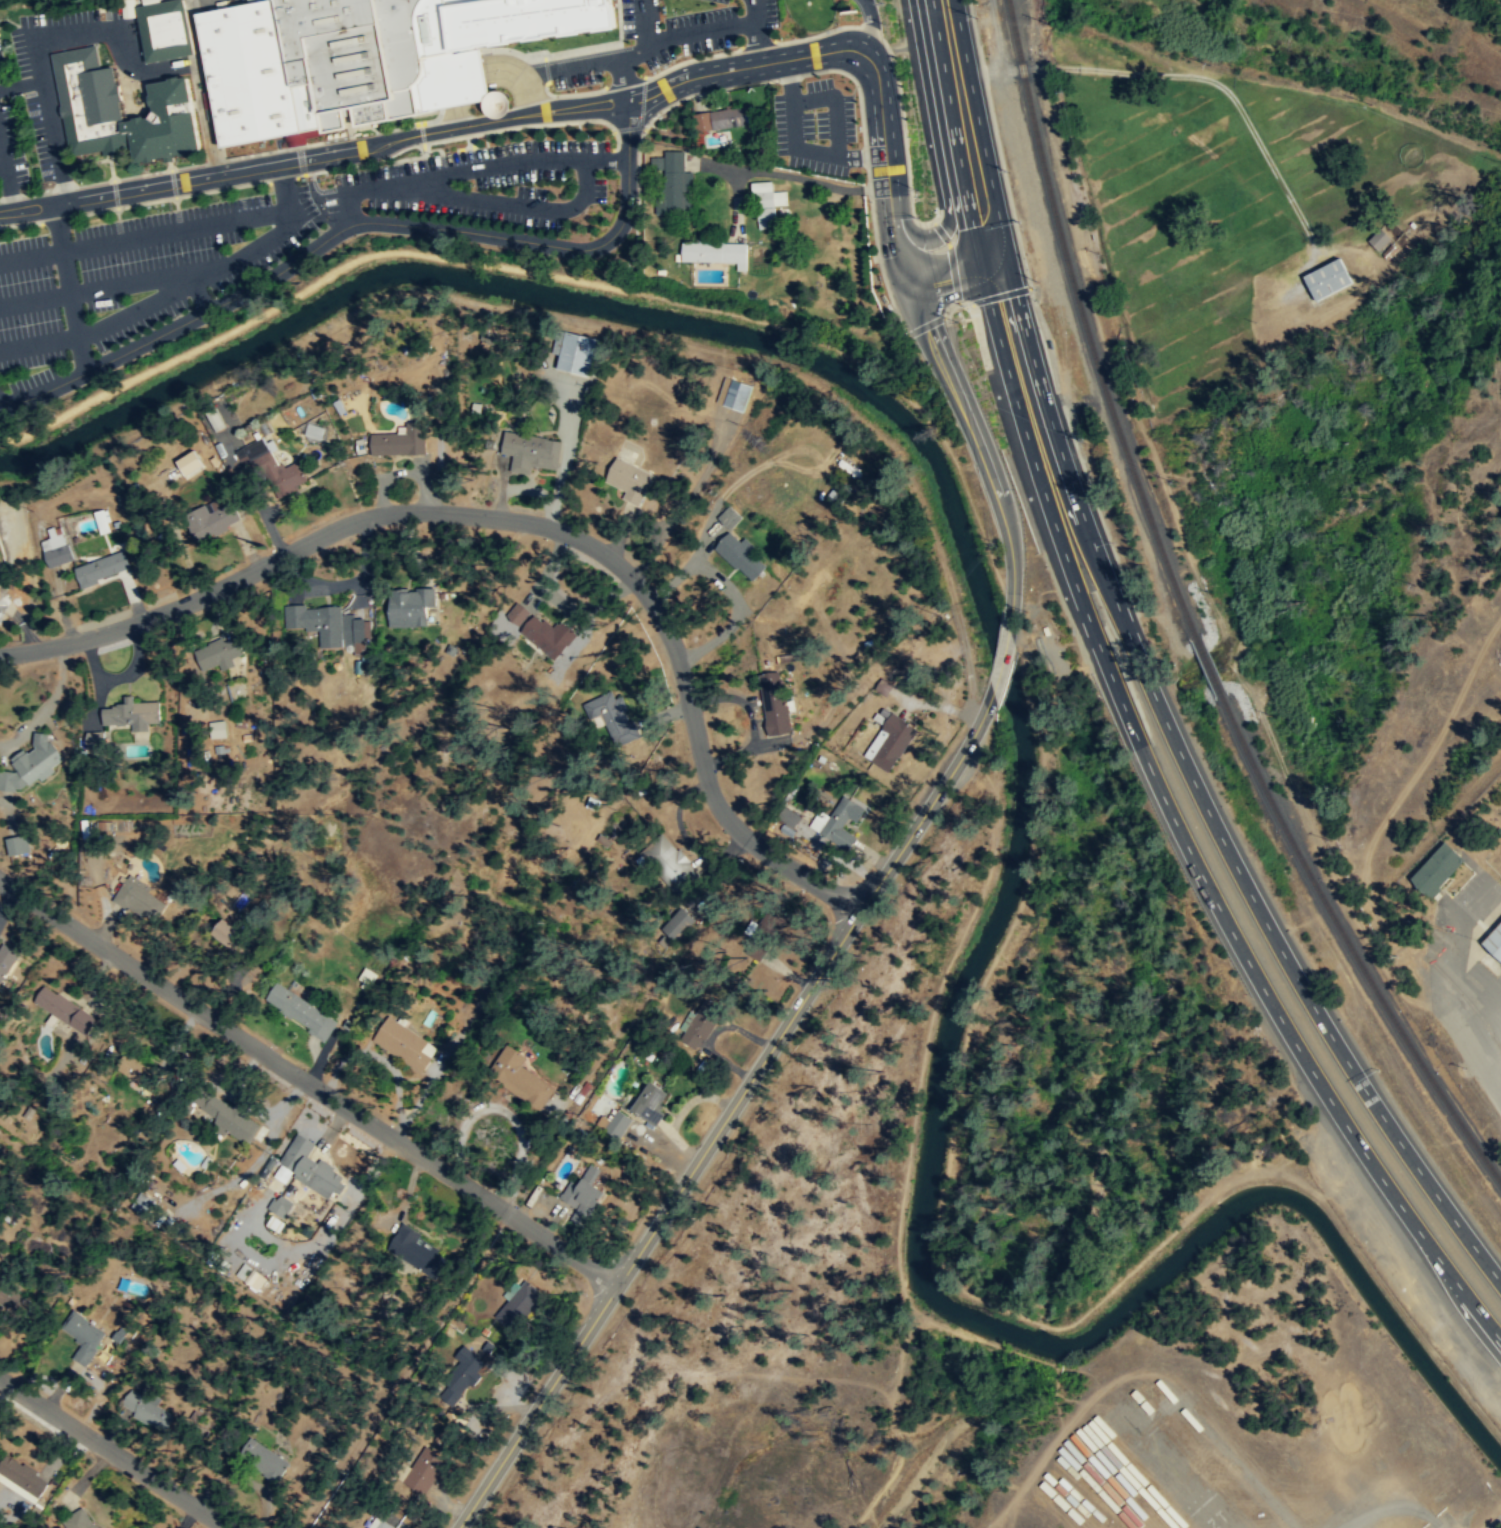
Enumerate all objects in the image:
road: (99, 4)
building: (522, 19)
road: (643, 21)
road: (871, 26)
building: (165, 30)
road: (756, 32)
road: (41, 34)
road: (758, 44)
road: (603, 46)
road: (621, 57)
building: (374, 60)
road: (666, 67)
road: (467, 69)
road: (828, 69)
building: (247, 72)
parking lot: (36, 83)
road: (897, 86)
road: (199, 89)
road: (570, 93)
road: (836, 102)
building: (503, 104)
road: (552, 110)
building: (121, 111)
building: (724, 120)
parking lot: (816, 126)
parking lot: (10, 138)
road: (795, 147)
road: (2, 157)
road: (2, 169)
road: (471, 169)
road: (786, 175)
parking lot: (483, 182)
building: (674, 182)
road: (283, 188)
road: (9, 190)
road: (733, 201)
road: (504, 203)
building: (768, 204)
road: (948, 207)
road: (376, 222)
road: (142, 235)
building: (1380, 240)
road: (634, 243)
building: (715, 253)
parking lot: (135, 275)
building: (1325, 276)
road: (107, 286)
road: (70, 287)
road: (156, 300)
railway: (1085, 323)
building: (576, 354)
building: (739, 396)
road: (958, 403)
building: (215, 419)
building: (316, 430)
building: (398, 442)
building: (531, 452)
building: (192, 461)
building: (273, 469)
building: (630, 480)
building: (729, 518)
building: (103, 520)
road: (1085, 520)
building: (209, 521)
road: (520, 523)
road: (1058, 530)
building: (14, 534)
building: (56, 547)
building: (742, 556)
building: (103, 568)
road: (1002, 604)
building: (408, 609)
building: (517, 615)
building: (339, 628)
building: (542, 636)
building: (223, 653)
road: (1001, 658)
railway: (1209, 665)
building: (771, 703)
building: (132, 715)
building: (614, 717)
building: (96, 739)
building: (891, 742)
building: (35, 763)
road: (927, 809)
building: (851, 811)
building: (788, 818)
building: (18, 844)
building: (677, 864)
building: (1432, 869)
building: (662, 873)
building: (138, 896)
building: (769, 932)
building: (229, 935)
railway: (1347, 940)
building: (1493, 940)
building: (6, 959)
building: (617, 962)
railway: (1469, 1001)
building: (66, 1010)
building: (301, 1012)
building: (701, 1025)
building: (401, 1041)
building: (140, 1070)
building: (523, 1077)
road: (309, 1082)
building: (60, 1085)
building: (651, 1102)
building: (228, 1118)
building: (619, 1125)
road: (1404, 1143)
building: (180, 1165)
building: (312, 1169)
road: (1390, 1180)
building: (587, 1189)
building: (281, 1204)
road: (655, 1225)
building: (416, 1251)
building: (12, 1297)
building: (518, 1305)
building: (83, 1334)
building: (464, 1375)
building: (147, 1410)
airport: (1242, 1413)
road: (112, 1454)
building: (264, 1459)
building: (4, 1467)
building: (424, 1469)
airport runway: (1213, 1517)
building: (81, 1521)
road: (1495, 1522)
building: (378, 1523)

